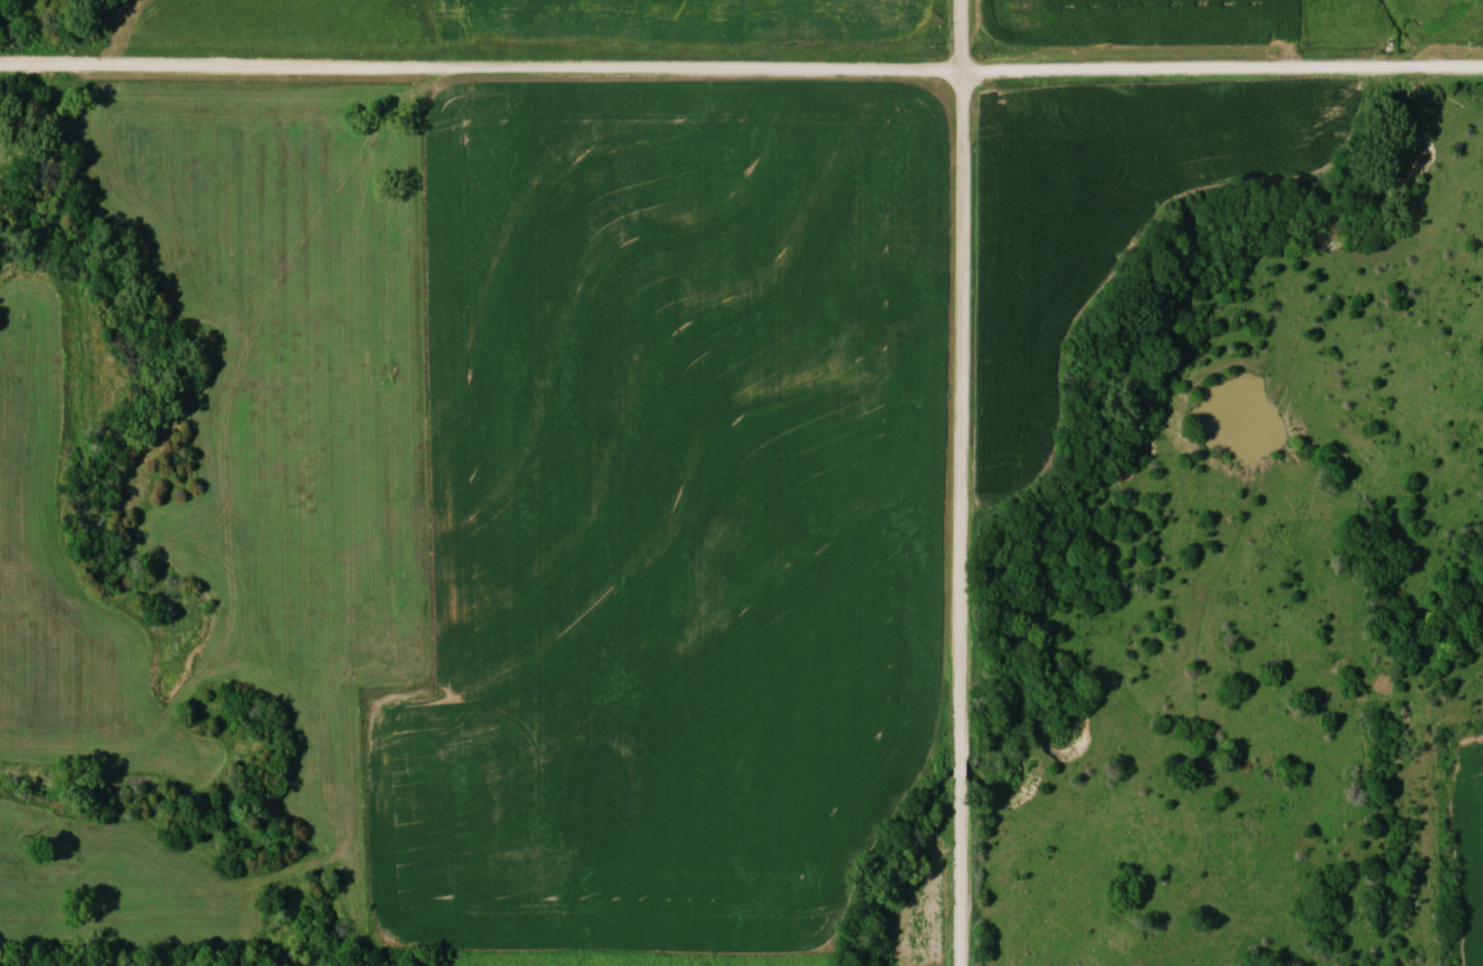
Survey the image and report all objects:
road: (741, 71)
road: (962, 483)

